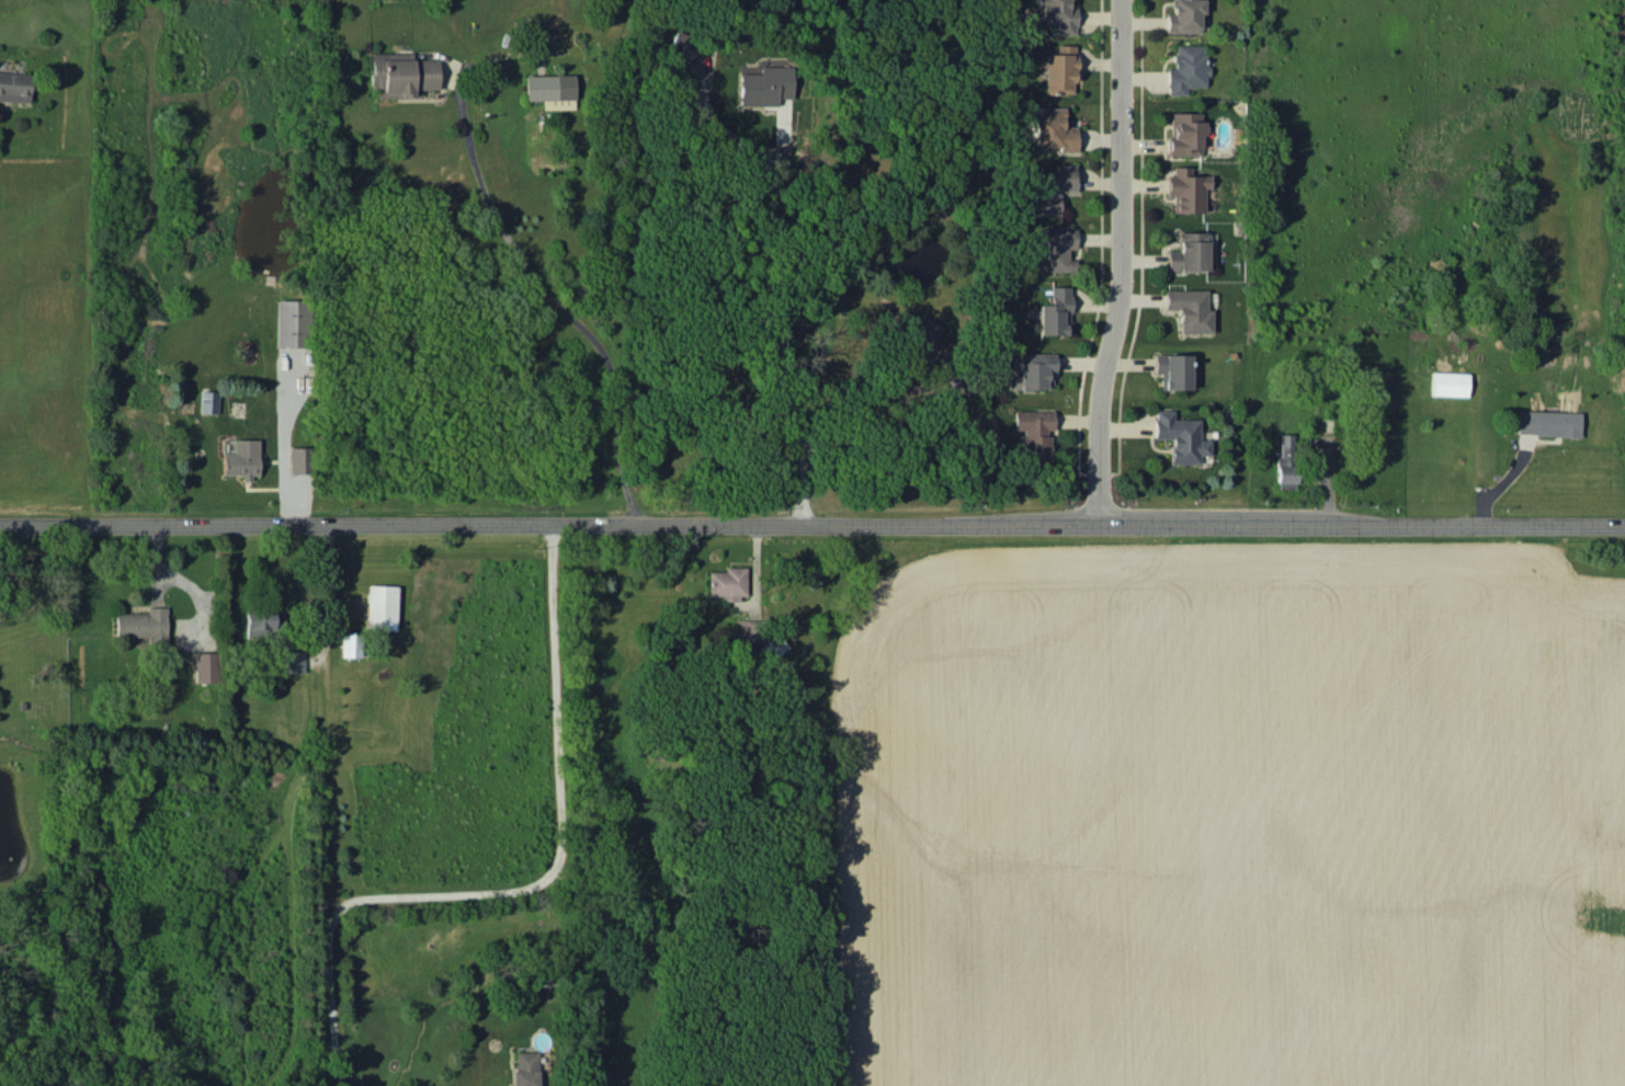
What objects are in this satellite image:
building: (1058, 14)
building: (1183, 15)
building: (679, 47)
building: (1185, 68)
building: (1059, 69)
building: (400, 73)
building: (764, 84)
building: (13, 85)
building: (549, 89)
building: (1184, 132)
building: (1050, 187)
building: (1185, 188)
building: (1189, 251)
road: (772, 255)
road: (1123, 263)
road: (536, 278)
building: (1190, 308)
building: (1054, 311)
building: (291, 322)
building: (922, 339)
building: (1172, 369)
building: (1033, 370)
building: (1448, 382)
building: (207, 400)
road: (859, 401)
building: (1548, 422)
building: (1033, 432)
building: (1180, 436)
road: (282, 439)
building: (241, 458)
building: (298, 459)
building: (1285, 461)
road: (804, 462)
road: (811, 523)
building: (727, 582)
road: (318, 595)
building: (379, 606)
building: (259, 618)
building: (141, 622)
building: (348, 643)
building: (772, 647)
building: (292, 661)
building: (205, 666)
road: (531, 885)
building: (524, 1067)

